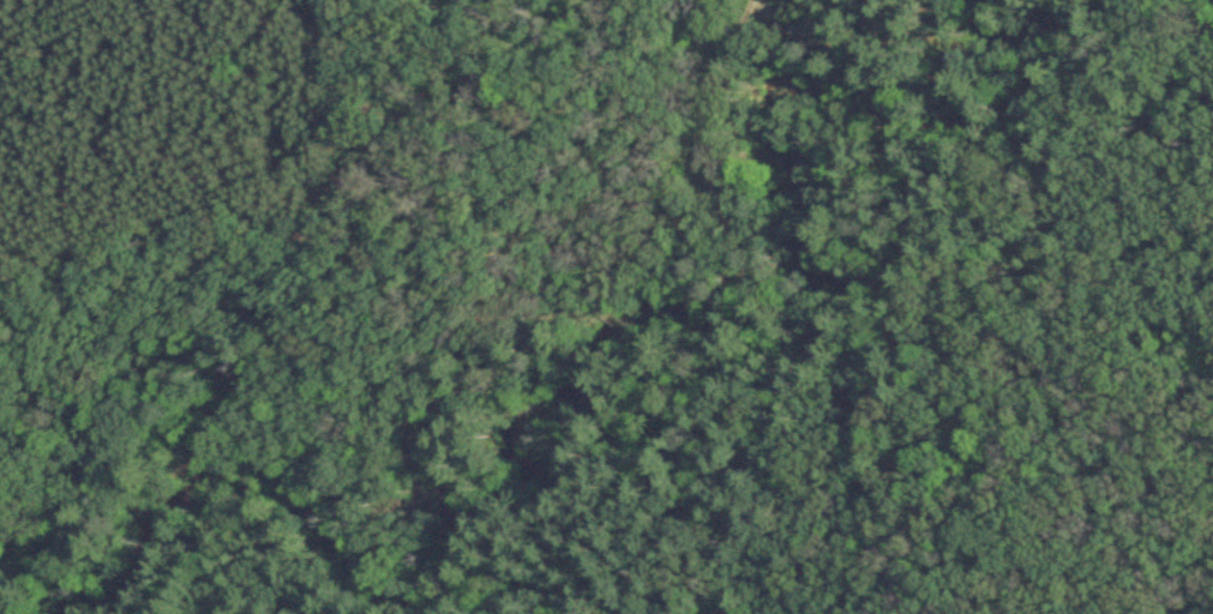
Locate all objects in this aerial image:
road: (684, 164)

